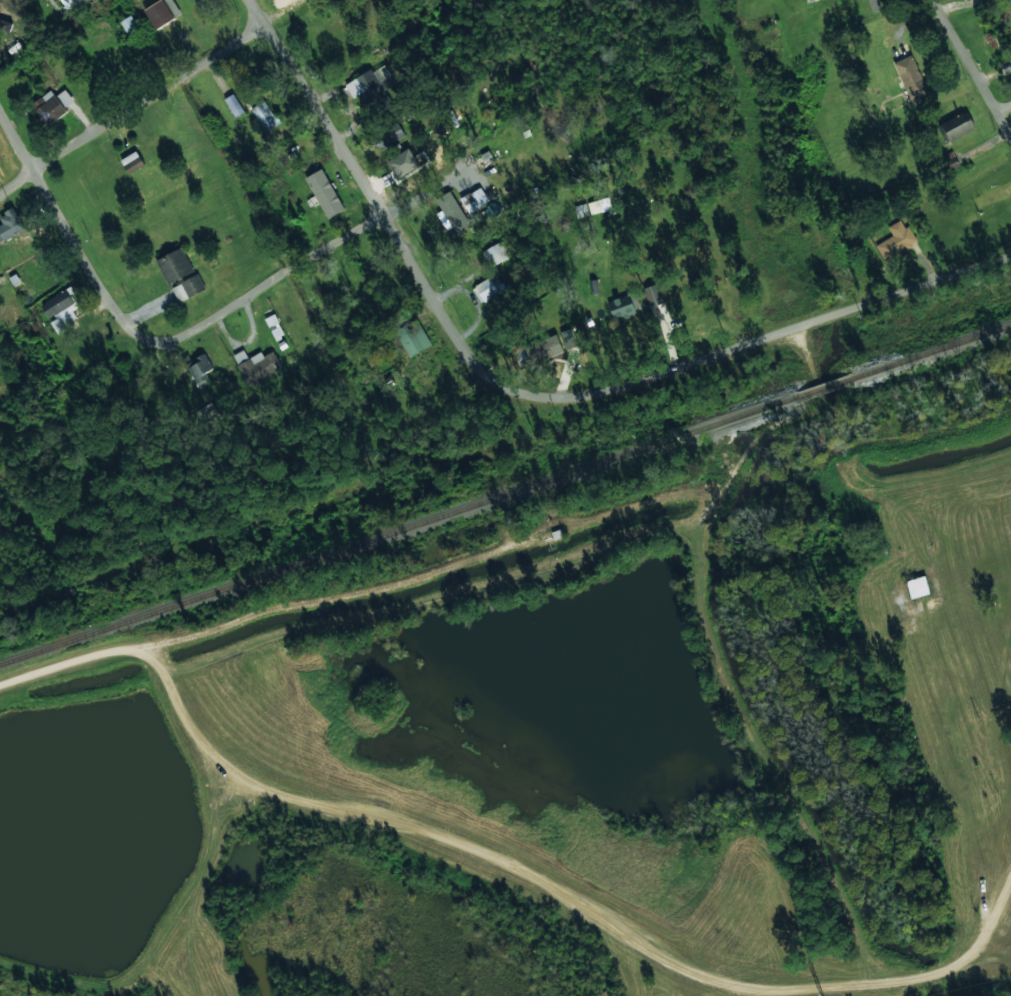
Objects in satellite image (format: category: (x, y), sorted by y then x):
building: (196, 0)
building: (965, 0)
building: (70, 3)
building: (873, 5)
road: (275, 8)
building: (162, 12)
building: (129, 24)
building: (1010, 54)
road: (971, 69)
building: (911, 77)
building: (371, 86)
building: (234, 105)
road: (1002, 105)
building: (52, 106)
road: (134, 112)
building: (265, 116)
building: (957, 126)
building: (388, 137)
building: (132, 162)
building: (951, 162)
building: (403, 165)
building: (325, 192)
building: (474, 199)
road: (381, 207)
building: (581, 210)
building: (453, 213)
building: (10, 225)
road: (57, 227)
building: (896, 240)
building: (496, 253)
building: (175, 265)
road: (260, 284)
building: (188, 287)
building: (488, 288)
building: (653, 295)
building: (623, 305)
building: (62, 309)
building: (274, 326)
road: (770, 333)
building: (413, 337)
building: (568, 339)
building: (256, 365)
building: (199, 369)
building: (210, 417)
railway: (505, 492)
road: (514, 866)
road: (988, 950)

